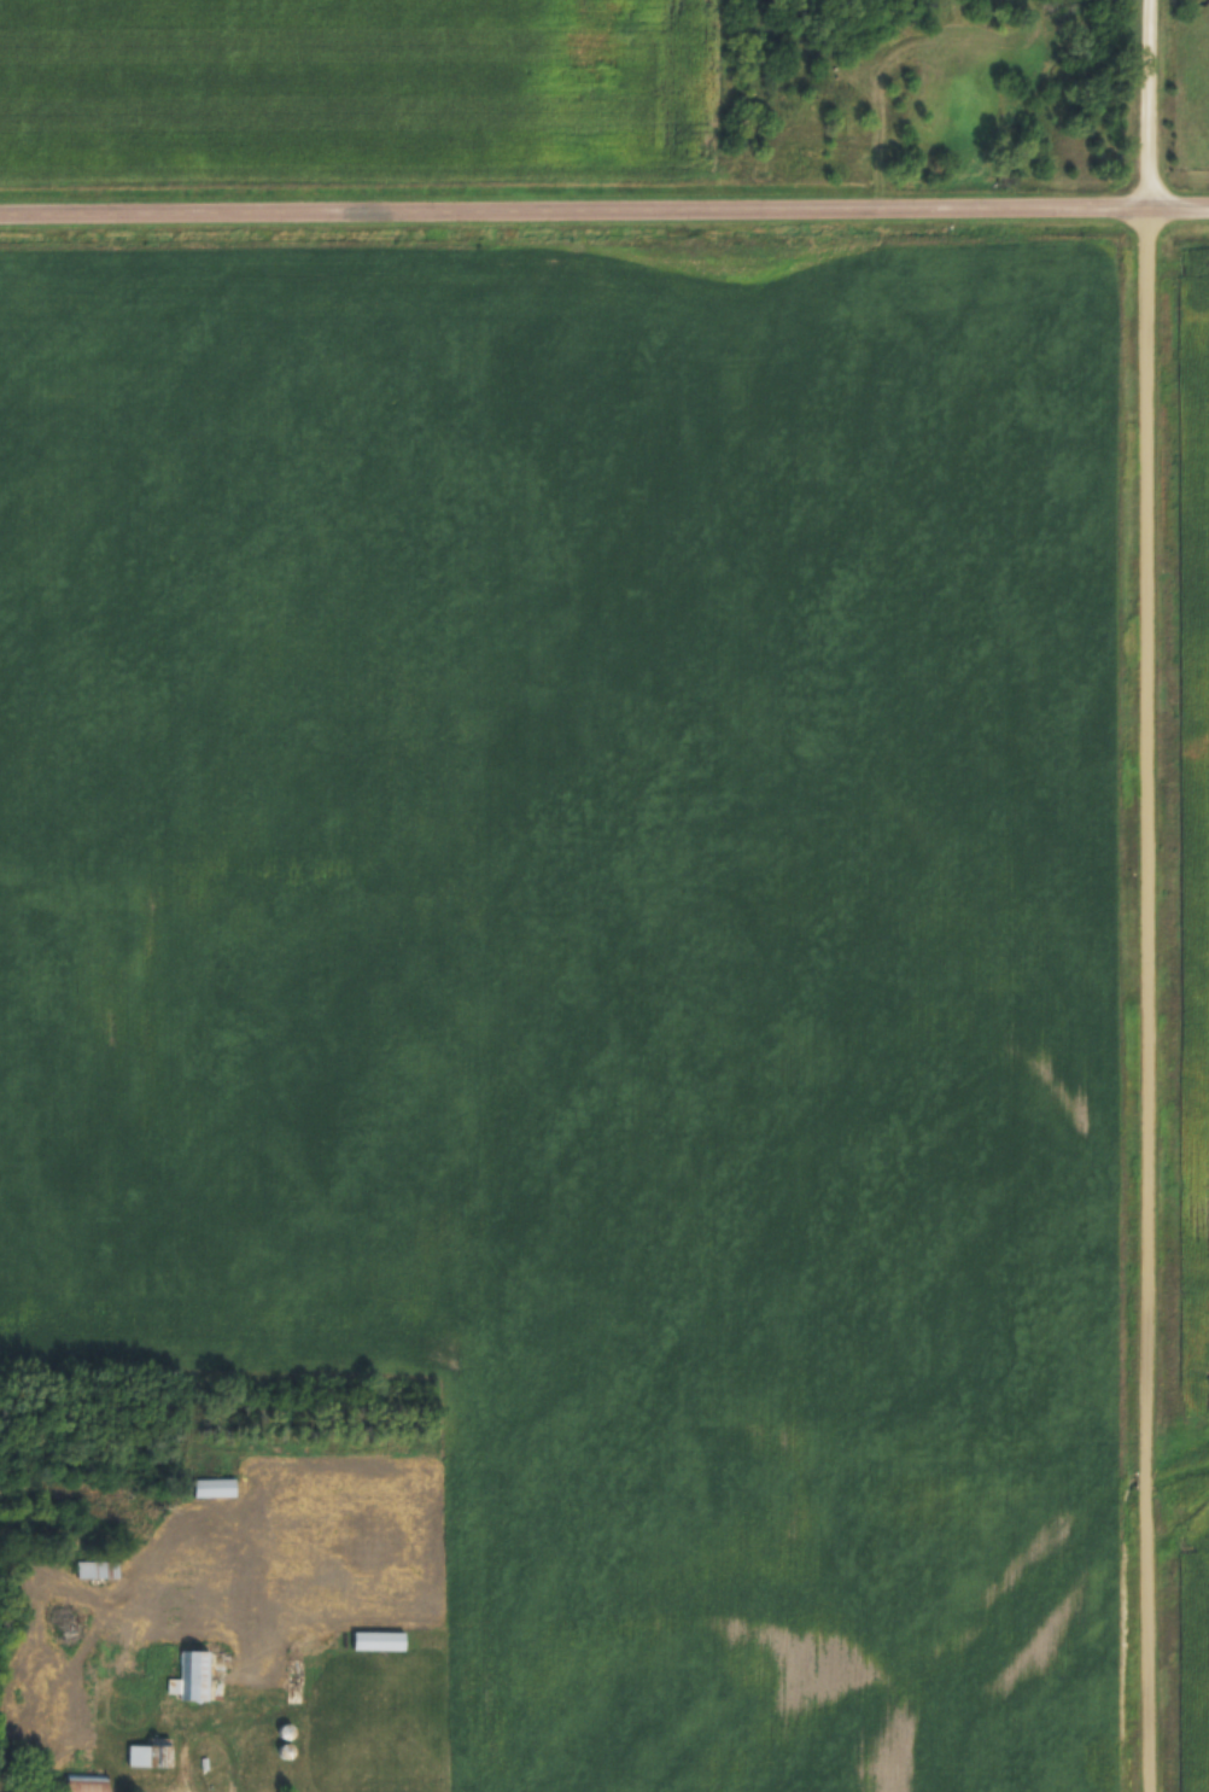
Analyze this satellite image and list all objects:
road: (603, 210)
road: (1146, 895)
building: (217, 1487)
building: (100, 1568)
building: (381, 1640)
building: (194, 1675)
road: (206, 1736)
building: (152, 1753)
building: (87, 1782)

